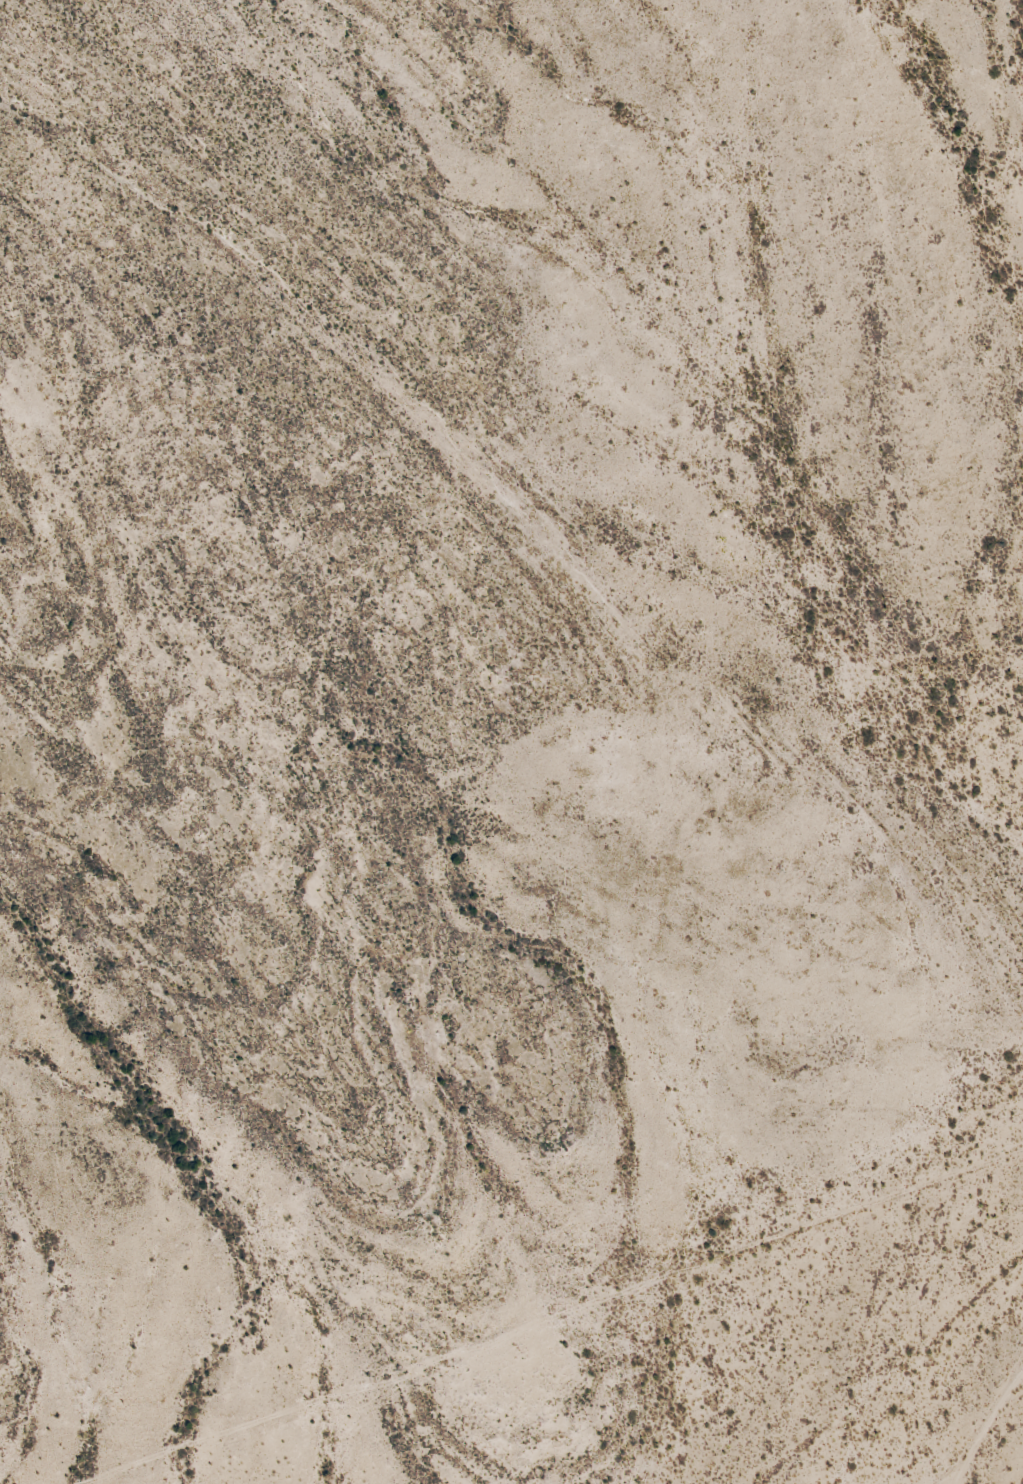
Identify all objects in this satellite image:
road: (536, 1285)
road: (990, 1437)

